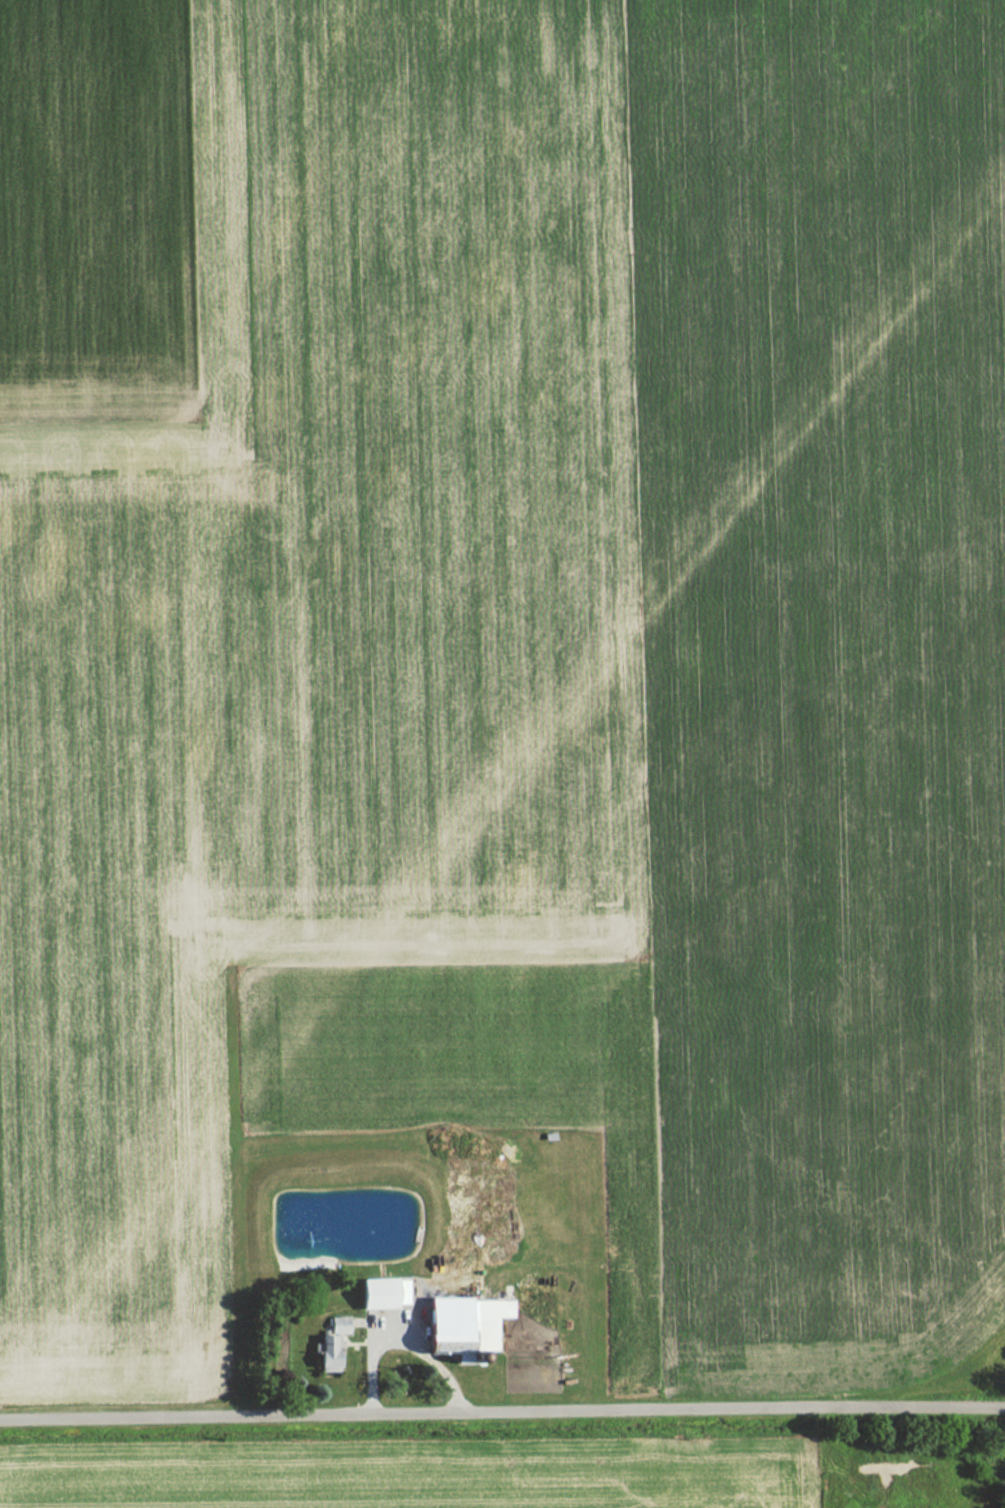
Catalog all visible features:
crop: (507, 651)
building: (379, 1294)
building: (460, 1325)
building: (335, 1326)
building: (324, 1354)
road: (502, 1410)
crop: (415, 1478)

